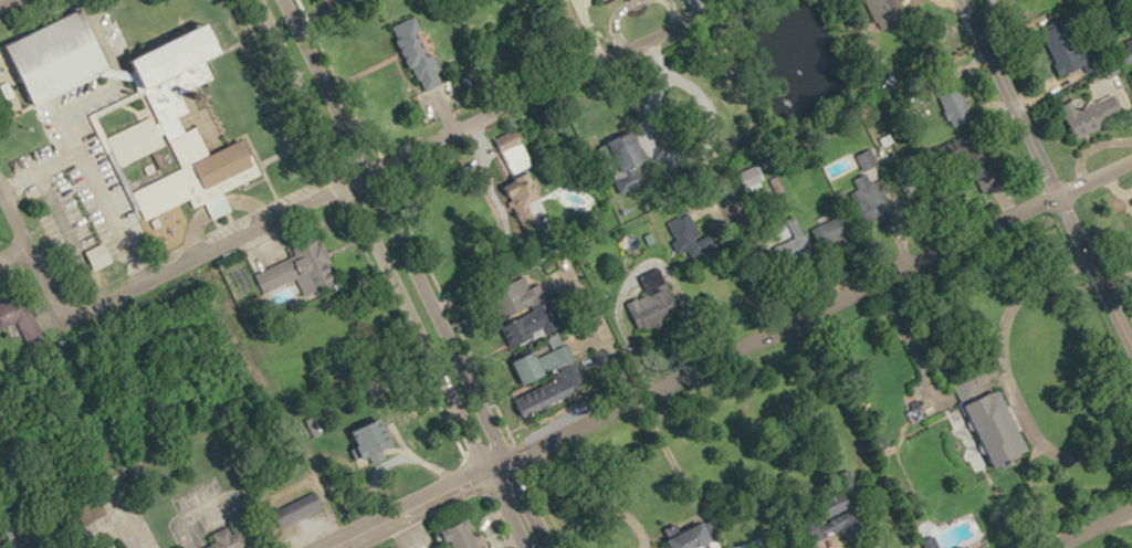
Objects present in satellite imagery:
parking lot: (106, 29)
building: (1071, 52)
building: (417, 53)
building: (61, 55)
road: (114, 86)
road: (536, 87)
road: (1004, 97)
building: (957, 108)
building: (1093, 115)
building: (179, 123)
building: (516, 156)
building: (868, 159)
road: (90, 175)
parking lot: (75, 176)
parking lot: (292, 197)
building: (871, 198)
road: (217, 208)
road: (56, 215)
road: (11, 219)
parking lot: (227, 228)
building: (690, 235)
road: (11, 250)
road: (178, 259)
building: (301, 267)
road: (402, 273)
road: (1092, 274)
building: (526, 297)
building: (653, 302)
road: (810, 307)
building: (20, 319)
building: (543, 322)
building: (532, 369)
building: (1000, 430)
road: (839, 434)
building: (378, 440)
road: (415, 508)
building: (298, 509)
road: (1090, 526)
building: (464, 535)
building: (698, 536)
road: (349, 545)

